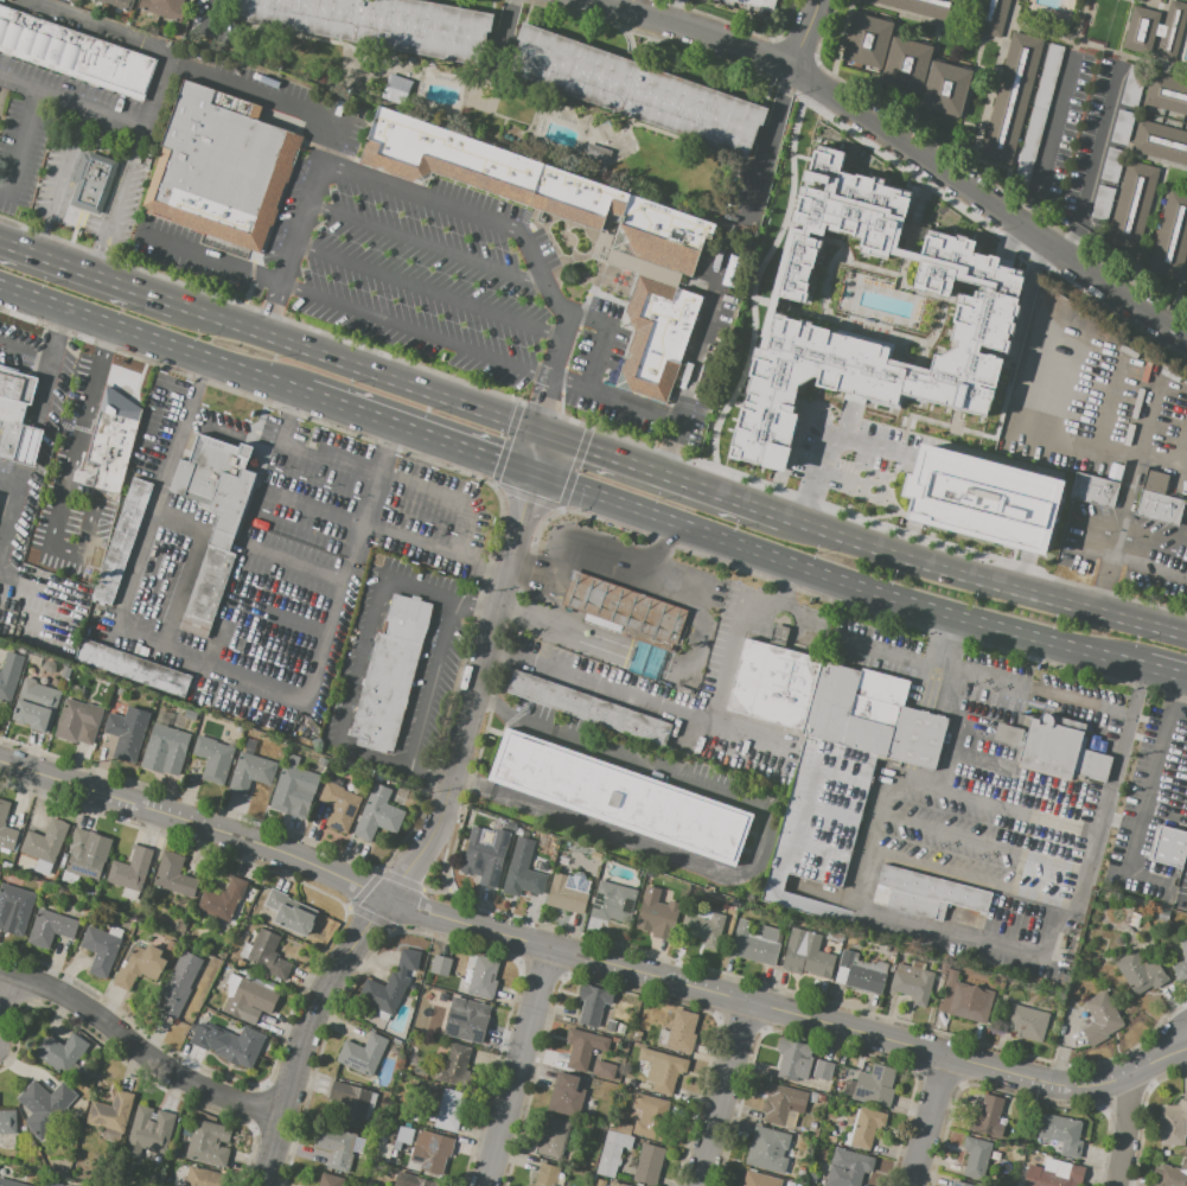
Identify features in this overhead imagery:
building: (117, 4)
building: (757, 4)
building: (164, 7)
building: (925, 7)
road: (211, 11)
building: (989, 15)
building: (381, 24)
road: (102, 28)
building: (1155, 30)
road: (800, 34)
building: (867, 40)
building: (75, 56)
road: (1103, 59)
building: (906, 64)
building: (1134, 84)
building: (396, 87)
building: (945, 88)
building: (634, 89)
road: (4, 91)
building: (1167, 93)
road: (250, 95)
building: (1010, 98)
road: (72, 101)
building: (1036, 120)
parking lot: (46, 126)
building: (1123, 127)
building: (802, 130)
building: (1161, 142)
road: (97, 144)
road: (765, 144)
road: (23, 146)
road: (901, 146)
building: (595, 158)
building: (1112, 165)
building: (219, 166)
road: (63, 179)
building: (91, 180)
parking lot: (47, 187)
building: (525, 190)
building: (1103, 203)
building: (1132, 205)
road: (515, 229)
building: (1170, 236)
road: (428, 244)
road: (210, 256)
road: (87, 270)
road: (429, 291)
building: (836, 308)
building: (1034, 320)
road: (415, 330)
road: (57, 332)
road: (147, 338)
road: (600, 338)
building: (655, 339)
road: (25, 349)
road: (696, 357)
building: (1023, 362)
road: (357, 365)
road: (46, 381)
road: (244, 398)
road: (613, 398)
building: (17, 417)
road: (543, 420)
traffic signals: (542, 429)
road: (79, 433)
road: (413, 433)
road: (849, 438)
building: (111, 440)
road: (306, 449)
road: (1093, 449)
road: (662, 471)
building: (1113, 471)
traffic signals: (531, 476)
building: (1093, 490)
road: (806, 495)
building: (981, 498)
building: (1159, 500)
road: (1122, 504)
road: (8, 509)
road: (519, 517)
road: (504, 524)
building: (223, 533)
road: (859, 538)
building: (121, 541)
road: (433, 546)
road: (612, 562)
road: (1149, 566)
parking lot: (423, 580)
road: (537, 580)
road: (834, 584)
road: (1061, 597)
road: (496, 607)
road: (625, 611)
building: (628, 621)
road: (614, 651)
road: (483, 653)
parking lot: (355, 657)
road: (910, 661)
building: (49, 665)
road: (206, 667)
building: (132, 668)
building: (66, 671)
building: (9, 675)
building: (389, 675)
road: (1164, 675)
road: (432, 681)
parking lot: (430, 687)
building: (121, 690)
road: (1053, 693)
road: (945, 694)
building: (37, 704)
building: (172, 708)
building: (588, 709)
road: (510, 714)
building: (193, 715)
road: (688, 715)
building: (78, 718)
building: (235, 726)
road: (958, 726)
building: (127, 732)
road: (744, 735)
road: (460, 738)
building: (165, 740)
building: (1053, 752)
building: (213, 759)
building: (320, 761)
building: (829, 761)
building: (338, 767)
building: (250, 769)
building: (293, 783)
road: (470, 783)
road: (1144, 796)
building: (619, 798)
building: (339, 804)
building: (378, 812)
building: (509, 828)
building: (6, 829)
building: (46, 841)
building: (1168, 847)
building: (87, 853)
building: (484, 856)
road: (749, 862)
building: (7, 865)
building: (130, 868)
building: (544, 868)
building: (523, 869)
building: (174, 875)
road: (979, 882)
building: (568, 892)
building: (931, 898)
building: (224, 899)
building: (612, 900)
building: (732, 904)
road: (1185, 904)
building: (679, 906)
building: (14, 907)
building: (291, 911)
building: (83, 914)
building: (652, 916)
building: (1135, 919)
building: (51, 927)
building: (703, 927)
building: (755, 943)
building: (101, 948)
building: (264, 954)
building: (1185, 954)
building: (808, 956)
road: (589, 958)
building: (891, 958)
building: (440, 965)
building: (138, 967)
road: (336, 970)
building: (1141, 973)
building: (862, 975)
building: (483, 977)
building: (179, 983)
building: (390, 984)
building: (913, 987)
road: (6, 993)
building: (250, 1001)
building: (966, 1001)
building: (593, 1003)
building: (467, 1020)
building: (1099, 1020)
building: (1026, 1022)
building: (611, 1026)
building: (620, 1028)
building: (682, 1033)
building: (637, 1034)
building: (662, 1037)
building: (235, 1044)
road: (139, 1047)
building: (582, 1047)
building: (60, 1052)
building: (362, 1054)
building: (794, 1058)
building: (842, 1060)
building: (455, 1063)
road: (516, 1066)
building: (604, 1070)
building: (662, 1070)
building: (823, 1070)
building: (595, 1084)
building: (875, 1086)
road: (727, 1093)
building: (564, 1096)
building: (812, 1097)
building: (822, 1098)
building: (350, 1103)
building: (780, 1103)
building: (44, 1107)
building: (449, 1111)
building: (111, 1112)
building: (988, 1116)
building: (650, 1117)
road: (926, 1121)
building: (8, 1122)
building: (815, 1124)
building: (1173, 1124)
building: (866, 1127)
building: (148, 1130)
road: (1127, 1131)
building: (1061, 1134)
building: (402, 1136)
building: (553, 1139)
building: (206, 1142)
building: (818, 1143)
building: (336, 1146)
building: (385, 1149)
building: (767, 1149)
building: (432, 1150)
building: (612, 1153)
building: (976, 1155)
building: (649, 1163)
building: (847, 1168)
building: (800, 1173)
building: (545, 1175)
building: (205, 1177)
building: (1169, 1177)
building: (811, 1178)
building: (1060, 1178)
building: (330, 1180)
building: (411, 1180)
building: (759, 1180)
building: (9, 1182)
building: (600, 1182)
building: (52, 1184)
building: (615, 1184)
building: (956, 1184)
building: (527, 1185)

